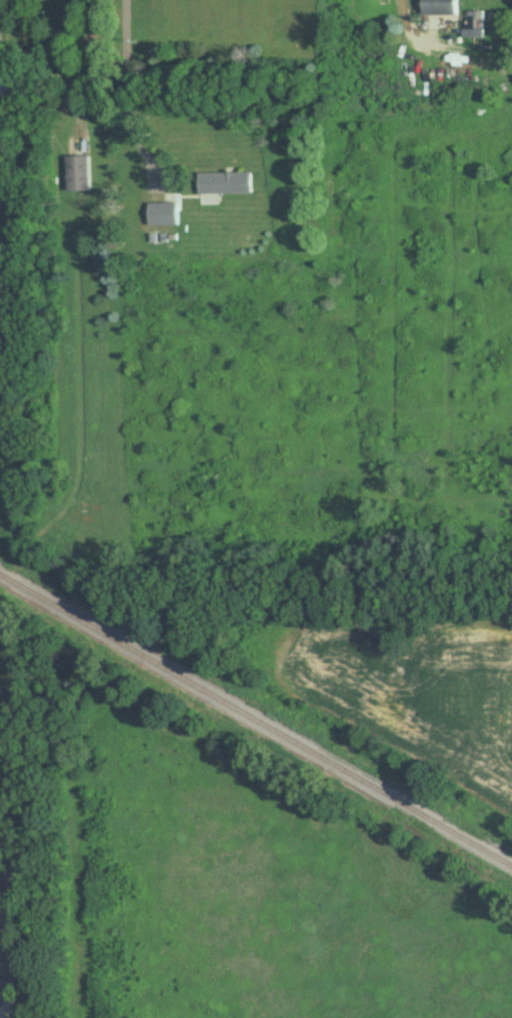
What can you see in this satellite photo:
building: (440, 7)
building: (474, 24)
road: (402, 27)
road: (128, 92)
building: (77, 173)
building: (225, 182)
building: (3, 189)
building: (163, 214)
railway: (256, 724)
road: (11, 955)

